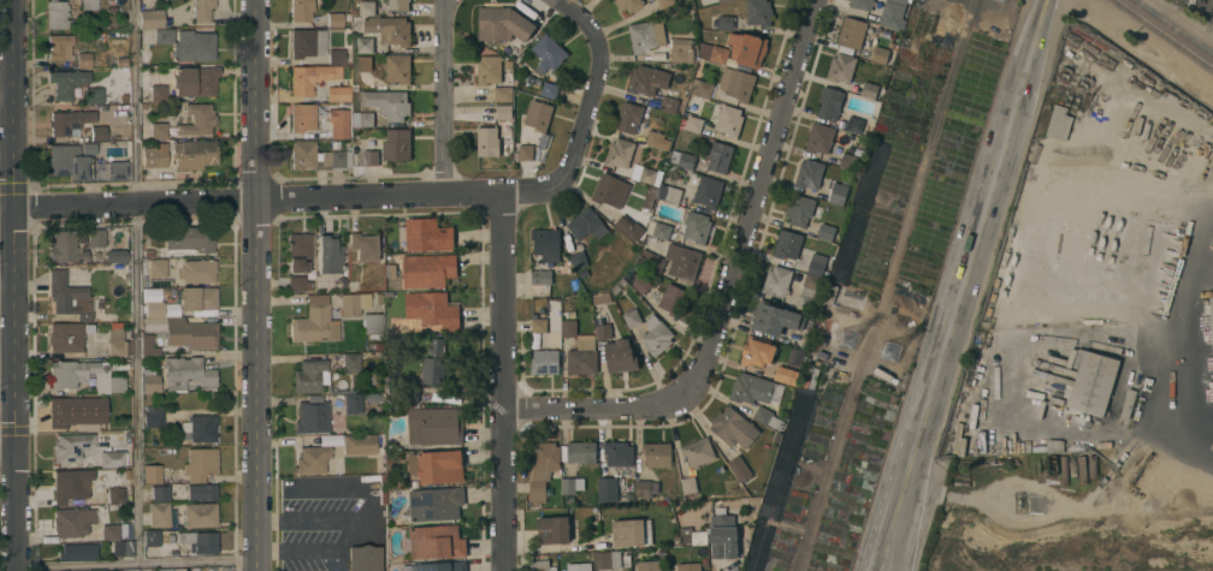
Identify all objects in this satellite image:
building: (722, 1)
building: (900, 1)
building: (665, 2)
building: (398, 4)
building: (862, 4)
building: (89, 5)
building: (628, 5)
building: (732, 7)
building: (367, 8)
building: (202, 10)
building: (301, 10)
building: (355, 11)
building: (758, 12)
building: (57, 14)
building: (892, 16)
building: (154, 18)
building: (335, 19)
building: (726, 22)
building: (503, 24)
railway: (1173, 26)
building: (390, 30)
building: (851, 32)
railway: (1165, 32)
building: (646, 35)
building: (100, 37)
building: (307, 42)
building: (187, 43)
building: (365, 44)
building: (59, 46)
building: (747, 48)
building: (681, 50)
building: (712, 52)
building: (549, 53)
building: (880, 54)
building: (336, 55)
building: (83, 60)
building: (122, 61)
building: (365, 64)
building: (398, 67)
building: (841, 67)
building: (489, 70)
building: (120, 76)
building: (310, 77)
building: (646, 79)
building: (194, 81)
building: (66, 82)
building: (736, 83)
building: (702, 88)
building: (550, 90)
building: (869, 90)
building: (158, 93)
building: (338, 94)
building: (503, 94)
building: (93, 95)
road: (445, 97)
building: (387, 103)
building: (669, 103)
building: (832, 103)
building: (142, 107)
building: (504, 112)
road: (587, 112)
building: (538, 115)
building: (302, 117)
building: (628, 118)
building: (197, 119)
building: (362, 119)
building: (67, 120)
building: (729, 120)
building: (338, 123)
building: (1059, 123)
building: (693, 124)
building: (854, 124)
building: (158, 130)
building: (97, 132)
building: (823, 137)
building: (657, 139)
building: (487, 142)
building: (335, 144)
building: (397, 144)
building: (89, 149)
building: (526, 151)
building: (620, 153)
building: (181, 154)
building: (316, 156)
building: (720, 156)
building: (371, 157)
building: (687, 161)
building: (847, 161)
building: (69, 162)
building: (117, 166)
building: (809, 174)
building: (647, 176)
building: (611, 190)
building: (708, 191)
building: (670, 194)
building: (838, 194)
road: (256, 197)
building: (649, 197)
building: (803, 210)
building: (587, 225)
building: (696, 226)
road: (11, 227)
building: (629, 227)
building: (658, 228)
building: (826, 232)
building: (426, 234)
building: (95, 237)
building: (81, 238)
building: (190, 238)
building: (850, 240)
building: (787, 244)
building: (365, 245)
building: (65, 248)
building: (164, 252)
building: (298, 252)
building: (148, 254)
building: (327, 254)
building: (544, 254)
building: (116, 256)
building: (579, 260)
building: (684, 261)
building: (656, 263)
building: (817, 266)
road: (969, 266)
building: (155, 268)
building: (197, 270)
building: (391, 270)
building: (428, 270)
road: (137, 280)
building: (777, 280)
building: (573, 281)
building: (297, 284)
building: (641, 284)
road: (255, 285)
building: (619, 285)
building: (164, 290)
road: (727, 290)
building: (811, 293)
building: (69, 297)
building: (196, 298)
building: (602, 298)
building: (674, 299)
building: (353, 304)
building: (153, 309)
building: (433, 309)
building: (572, 314)
building: (564, 315)
building: (632, 317)
building: (1212, 317)
building: (775, 319)
building: (314, 321)
building: (371, 323)
building: (538, 326)
building: (569, 328)
building: (603, 331)
building: (190, 333)
building: (656, 335)
building: (65, 337)
road: (1178, 338)
building: (117, 340)
power tower: (859, 341)
building: (146, 344)
building: (378, 345)
building: (758, 351)
power tower: (895, 352)
building: (582, 356)
building: (621, 356)
building: (795, 357)
building: (545, 362)
building: (351, 363)
building: (434, 363)
building: (188, 375)
building: (310, 375)
building: (786, 375)
building: (83, 376)
building: (150, 382)
road: (503, 383)
building: (1094, 383)
building: (751, 388)
building: (353, 403)
building: (77, 411)
building: (153, 416)
building: (312, 417)
building: (768, 417)
building: (436, 426)
building: (200, 428)
building: (733, 428)
building: (359, 445)
building: (71, 446)
building: (1054, 446)
building: (580, 452)
building: (698, 452)
building: (619, 453)
road: (7, 454)
building: (657, 454)
building: (112, 459)
building: (312, 459)
building: (201, 464)
building: (437, 466)
building: (542, 468)
building: (740, 468)
building: (1064, 470)
building: (1083, 470)
building: (152, 474)
building: (414, 483)
building: (688, 484)
building: (67, 486)
building: (569, 486)
building: (646, 488)
building: (606, 489)
building: (201, 492)
building: (160, 493)
building: (116, 498)
building: (434, 504)
road: (14, 512)
building: (159, 513)
building: (777, 513)
building: (200, 515)
building: (72, 522)
building: (554, 529)
building: (632, 533)
building: (687, 535)
building: (723, 536)
building: (152, 537)
building: (116, 540)
building: (199, 542)
building: (432, 542)
building: (77, 551)
road: (882, 552)
building: (363, 558)
building: (608, 559)
building: (704, 561)
road: (135, 563)
building: (539, 565)
building: (649, 565)
building: (436, 566)
building: (579, 566)
building: (688, 566)
building: (95, 570)
building: (130, 570)

